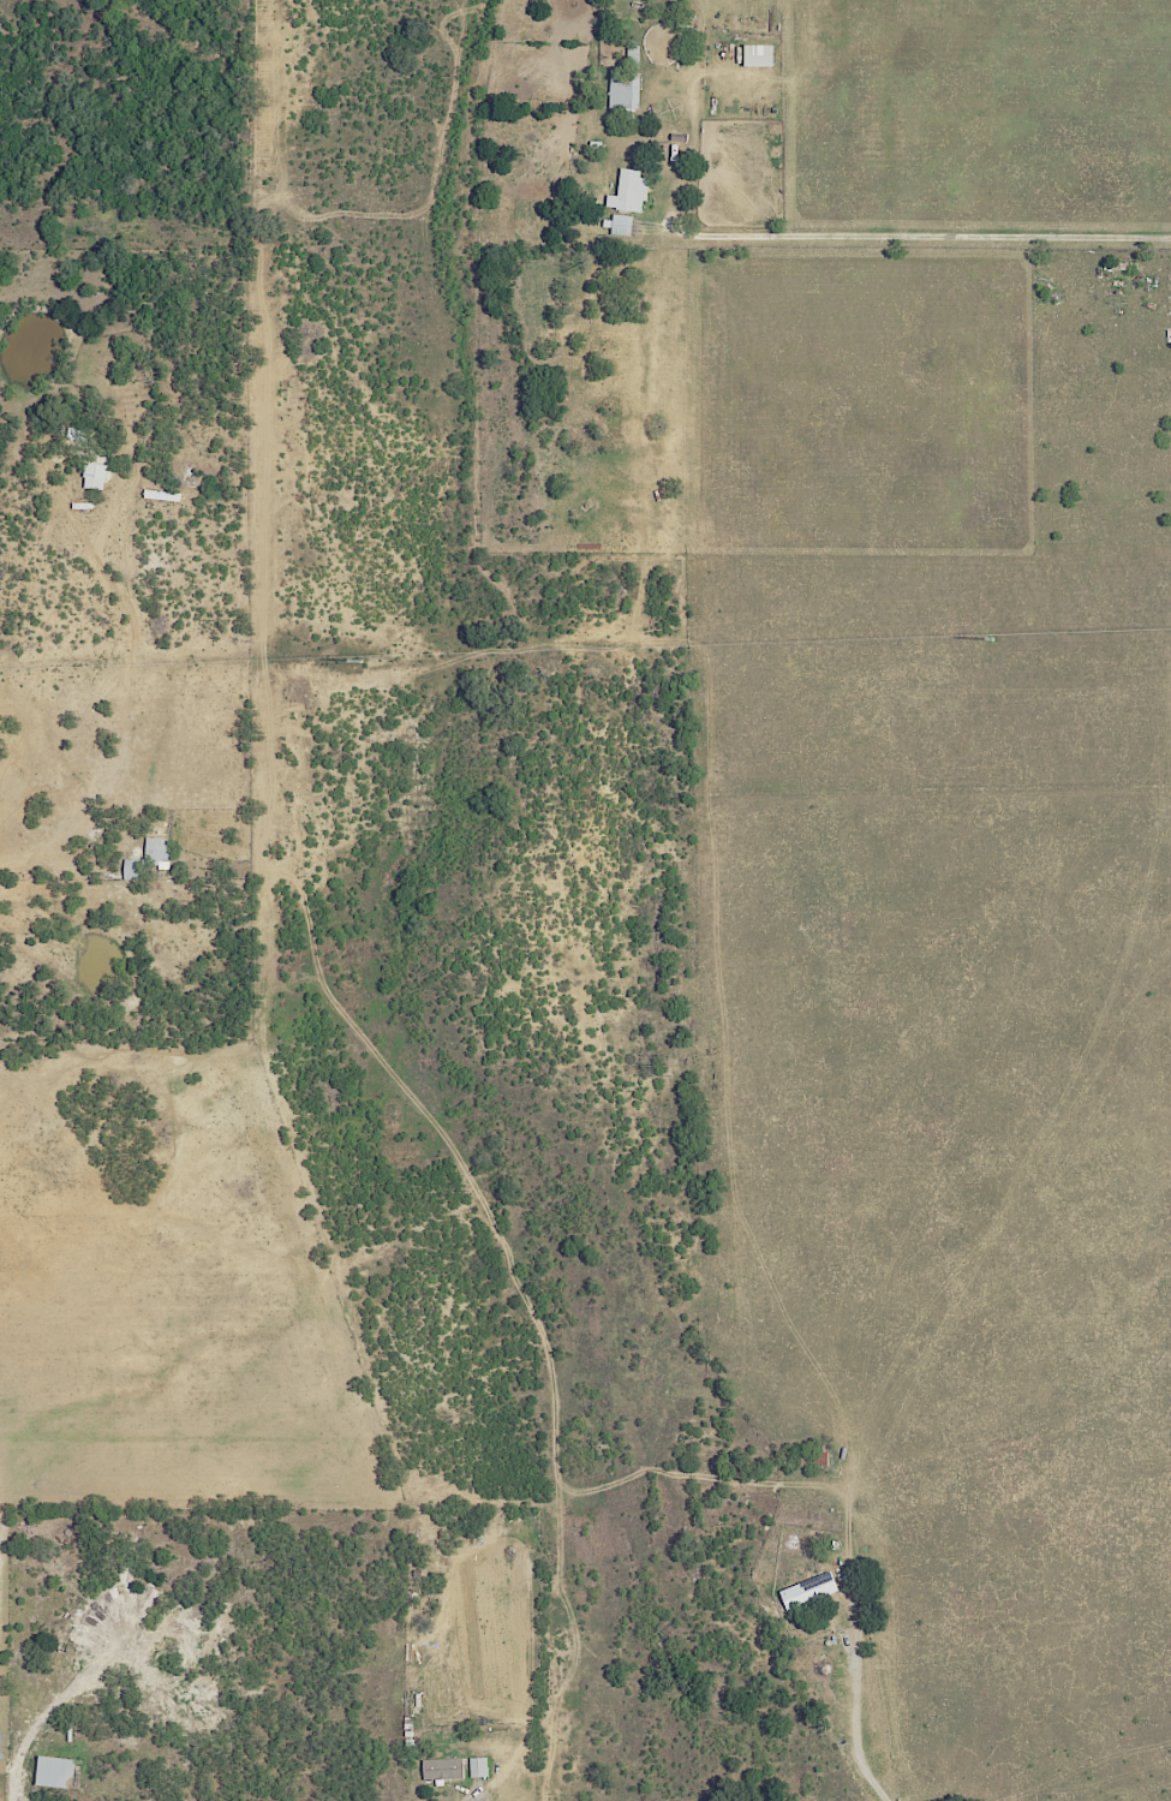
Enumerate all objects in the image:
road: (1028, 47)
building: (755, 55)
building: (622, 89)
building: (627, 192)
building: (620, 225)
road: (919, 235)
building: (73, 434)
building: (92, 476)
power tower: (993, 642)
power tower: (360, 662)
building: (156, 853)
building: (131, 869)
road: (23, 872)
building: (806, 1591)
road: (856, 1702)
building: (477, 1767)
building: (441, 1769)
building: (52, 1772)
road: (12, 1779)

